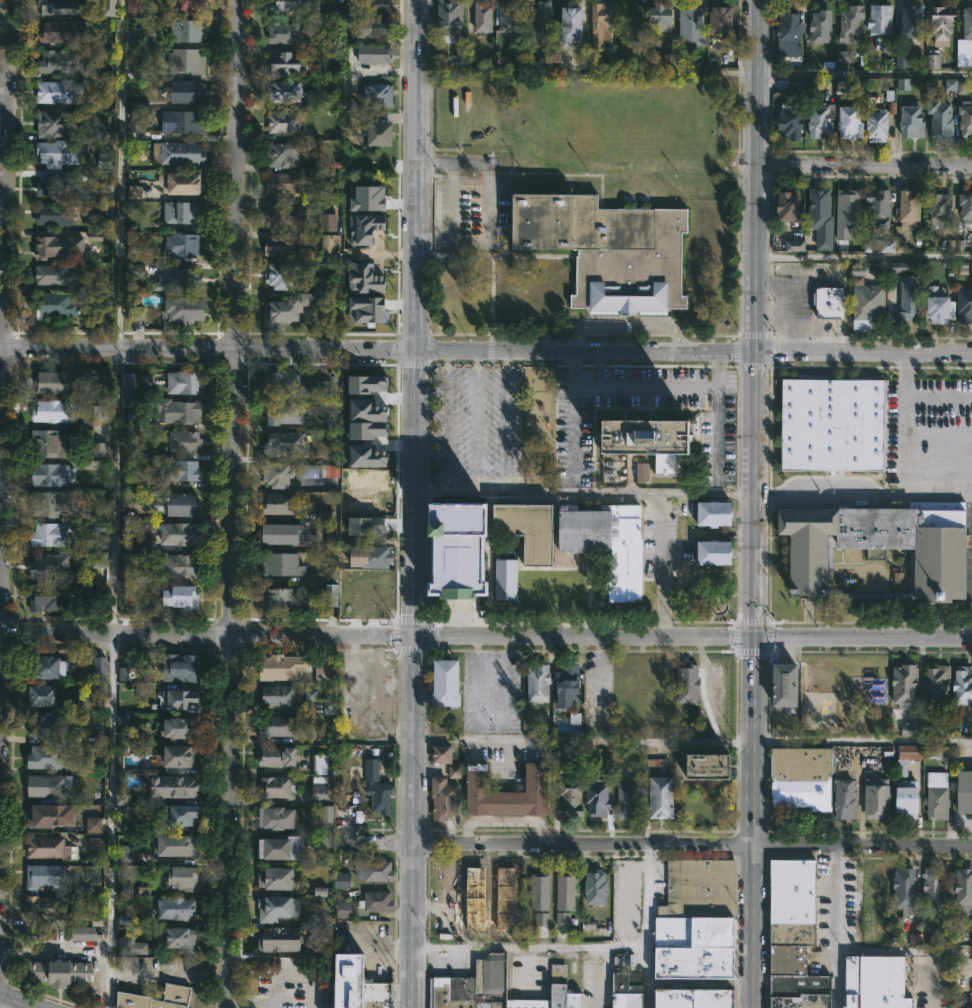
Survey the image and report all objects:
building: (290, 5)
building: (63, 6)
building: (133, 6)
building: (189, 6)
building: (374, 6)
building: (110, 7)
building: (484, 17)
building: (511, 18)
building: (660, 18)
building: (541, 19)
building: (724, 19)
building: (882, 19)
building: (450, 20)
building: (853, 22)
building: (943, 22)
building: (572, 23)
building: (912, 23)
building: (968, 23)
building: (693, 26)
building: (821, 26)
building: (371, 27)
building: (790, 29)
building: (185, 30)
building: (63, 31)
building: (604, 31)
building: (283, 32)
building: (133, 37)
building: (374, 53)
building: (963, 53)
building: (668, 60)
building: (56, 61)
building: (186, 61)
building: (550, 61)
building: (932, 61)
building: (283, 64)
building: (136, 71)
road: (864, 73)
building: (795, 85)
building: (955, 85)
building: (842, 87)
building: (59, 91)
building: (288, 91)
building: (186, 92)
building: (379, 94)
building: (134, 117)
building: (822, 119)
building: (967, 119)
building: (942, 120)
building: (792, 121)
building: (913, 121)
building: (186, 122)
building: (284, 122)
building: (851, 122)
building: (56, 123)
building: (879, 124)
building: (382, 134)
building: (58, 153)
building: (179, 153)
building: (282, 155)
building: (104, 160)
road: (864, 167)
road: (118, 174)
building: (182, 183)
building: (55, 184)
building: (287, 184)
building: (134, 192)
building: (378, 193)
building: (821, 206)
building: (792, 207)
building: (853, 207)
building: (881, 208)
building: (911, 208)
building: (966, 209)
building: (941, 210)
building: (183, 212)
building: (56, 214)
building: (283, 214)
building: (327, 222)
road: (486, 224)
building: (364, 228)
building: (330, 243)
building: (184, 244)
building: (794, 245)
building: (886, 245)
building: (59, 246)
building: (283, 246)
building: (605, 249)
road: (864, 256)
building: (136, 271)
building: (53, 275)
building: (280, 275)
building: (179, 277)
building: (363, 278)
building: (322, 285)
building: (906, 291)
road: (5, 293)
building: (308, 299)
building: (866, 299)
building: (831, 303)
building: (58, 305)
building: (965, 305)
building: (941, 306)
building: (367, 309)
building: (186, 310)
building: (135, 311)
building: (281, 312)
road: (234, 317)
road: (414, 317)
road: (755, 318)
road: (626, 326)
road: (486, 350)
building: (55, 382)
building: (185, 383)
building: (367, 384)
building: (286, 385)
building: (128, 386)
road: (646, 388)
building: (322, 389)
building: (539, 399)
building: (181, 411)
building: (53, 412)
building: (99, 413)
building: (284, 413)
building: (366, 420)
road: (445, 421)
road: (476, 421)
road: (506, 421)
building: (830, 425)
road: (572, 429)
road: (715, 433)
building: (646, 441)
building: (185, 442)
building: (48, 444)
building: (284, 444)
road: (899, 449)
building: (98, 450)
building: (365, 456)
building: (180, 470)
building: (641, 472)
building: (297, 473)
building: (52, 475)
road: (114, 491)
road: (584, 492)
road: (863, 497)
building: (52, 503)
building: (279, 504)
building: (184, 505)
building: (711, 514)
building: (365, 526)
building: (526, 529)
building: (181, 534)
building: (54, 535)
building: (284, 535)
building: (606, 542)
building: (875, 545)
building: (453, 549)
building: (711, 553)
building: (372, 558)
building: (98, 560)
road: (661, 565)
building: (50, 566)
building: (282, 566)
building: (173, 569)
building: (503, 578)
building: (897, 578)
building: (545, 585)
building: (330, 595)
building: (182, 597)
building: (49, 598)
building: (279, 599)
traffic signals: (414, 636)
road: (486, 636)
traffic signals: (751, 637)
building: (48, 665)
building: (98, 666)
building: (283, 666)
building: (181, 667)
building: (324, 669)
building: (122, 674)
road: (599, 678)
building: (539, 683)
building: (569, 684)
building: (689, 684)
building: (939, 684)
building: (448, 685)
building: (906, 685)
building: (783, 686)
building: (963, 686)
building: (279, 694)
building: (309, 695)
building: (43, 696)
building: (184, 698)
building: (328, 706)
road: (492, 720)
building: (913, 725)
building: (279, 726)
building: (44, 728)
building: (181, 729)
road: (860, 740)
road: (414, 741)
road: (582, 741)
building: (278, 755)
building: (47, 756)
building: (182, 756)
building: (443, 757)
building: (908, 758)
building: (712, 763)
building: (320, 764)
building: (655, 767)
building: (454, 772)
building: (802, 778)
building: (50, 786)
building: (276, 786)
building: (175, 787)
building: (378, 787)
building: (320, 789)
building: (966, 791)
building: (509, 794)
building: (665, 796)
building: (878, 797)
building: (445, 798)
building: (598, 798)
building: (846, 798)
building: (122, 799)
building: (571, 800)
building: (909, 800)
building: (629, 801)
building: (941, 802)
building: (49, 814)
building: (327, 814)
building: (183, 815)
building: (278, 819)
road: (108, 820)
road: (226, 821)
road: (750, 822)
building: (93, 825)
building: (96, 843)
road: (377, 843)
building: (175, 844)
building: (48, 847)
building: (282, 847)
road: (693, 848)
building: (125, 853)
building: (375, 870)
building: (44, 876)
building: (277, 877)
building: (182, 878)
building: (447, 878)
building: (342, 880)
building: (474, 884)
building: (935, 886)
building: (597, 887)
building: (853, 887)
building: (507, 888)
building: (876, 888)
building: (906, 889)
building: (965, 890)
building: (541, 891)
building: (567, 891)
building: (379, 900)
building: (346, 905)
building: (46, 907)
building: (278, 907)
building: (177, 908)
building: (562, 918)
building: (541, 919)
building: (697, 919)
building: (447, 926)
road: (413, 927)
road: (835, 927)
building: (82, 933)
building: (796, 936)
building: (180, 938)
building: (280, 938)
building: (131, 945)
road: (578, 946)
road: (904, 950)
road: (53, 952)
building: (60, 972)
road: (167, 976)
road: (596, 977)
road: (647, 977)
building: (875, 982)
road: (274, 983)
building: (362, 984)
building: (474, 985)
road: (932, 985)
building: (565, 989)
building: (625, 989)
building: (177, 995)
building: (693, 998)
road: (17, 1002)

